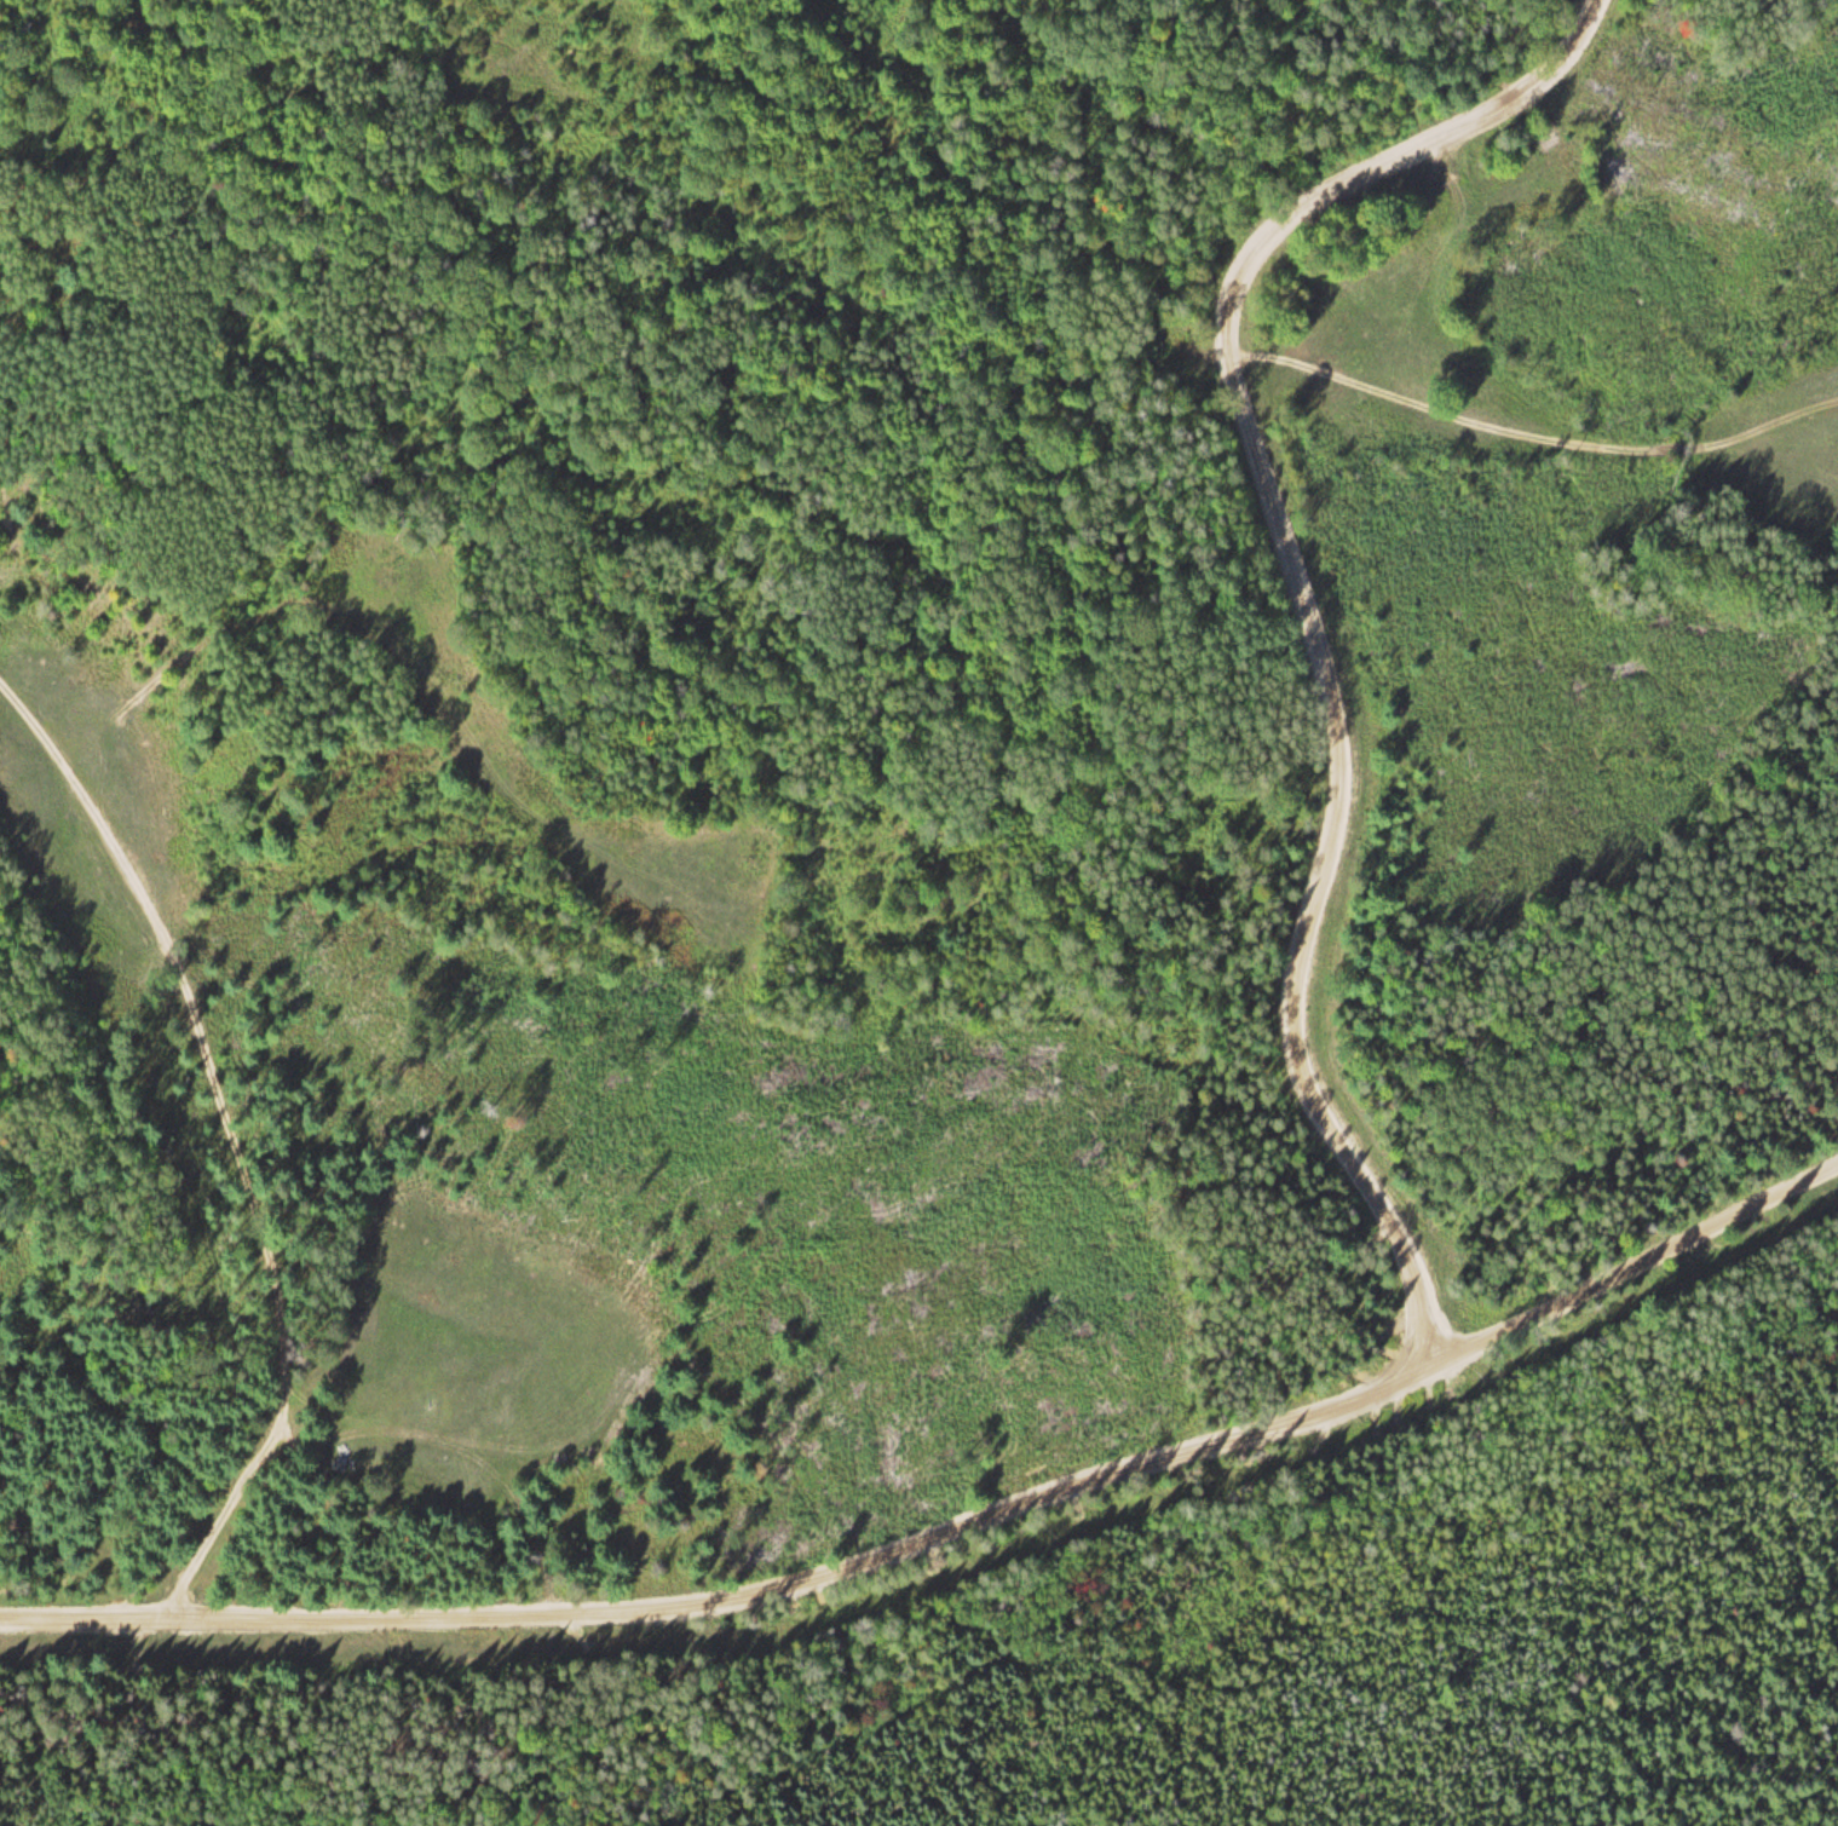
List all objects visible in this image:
road: (1297, 607)
road: (249, 1200)
road: (1634, 1266)
road: (734, 1599)

